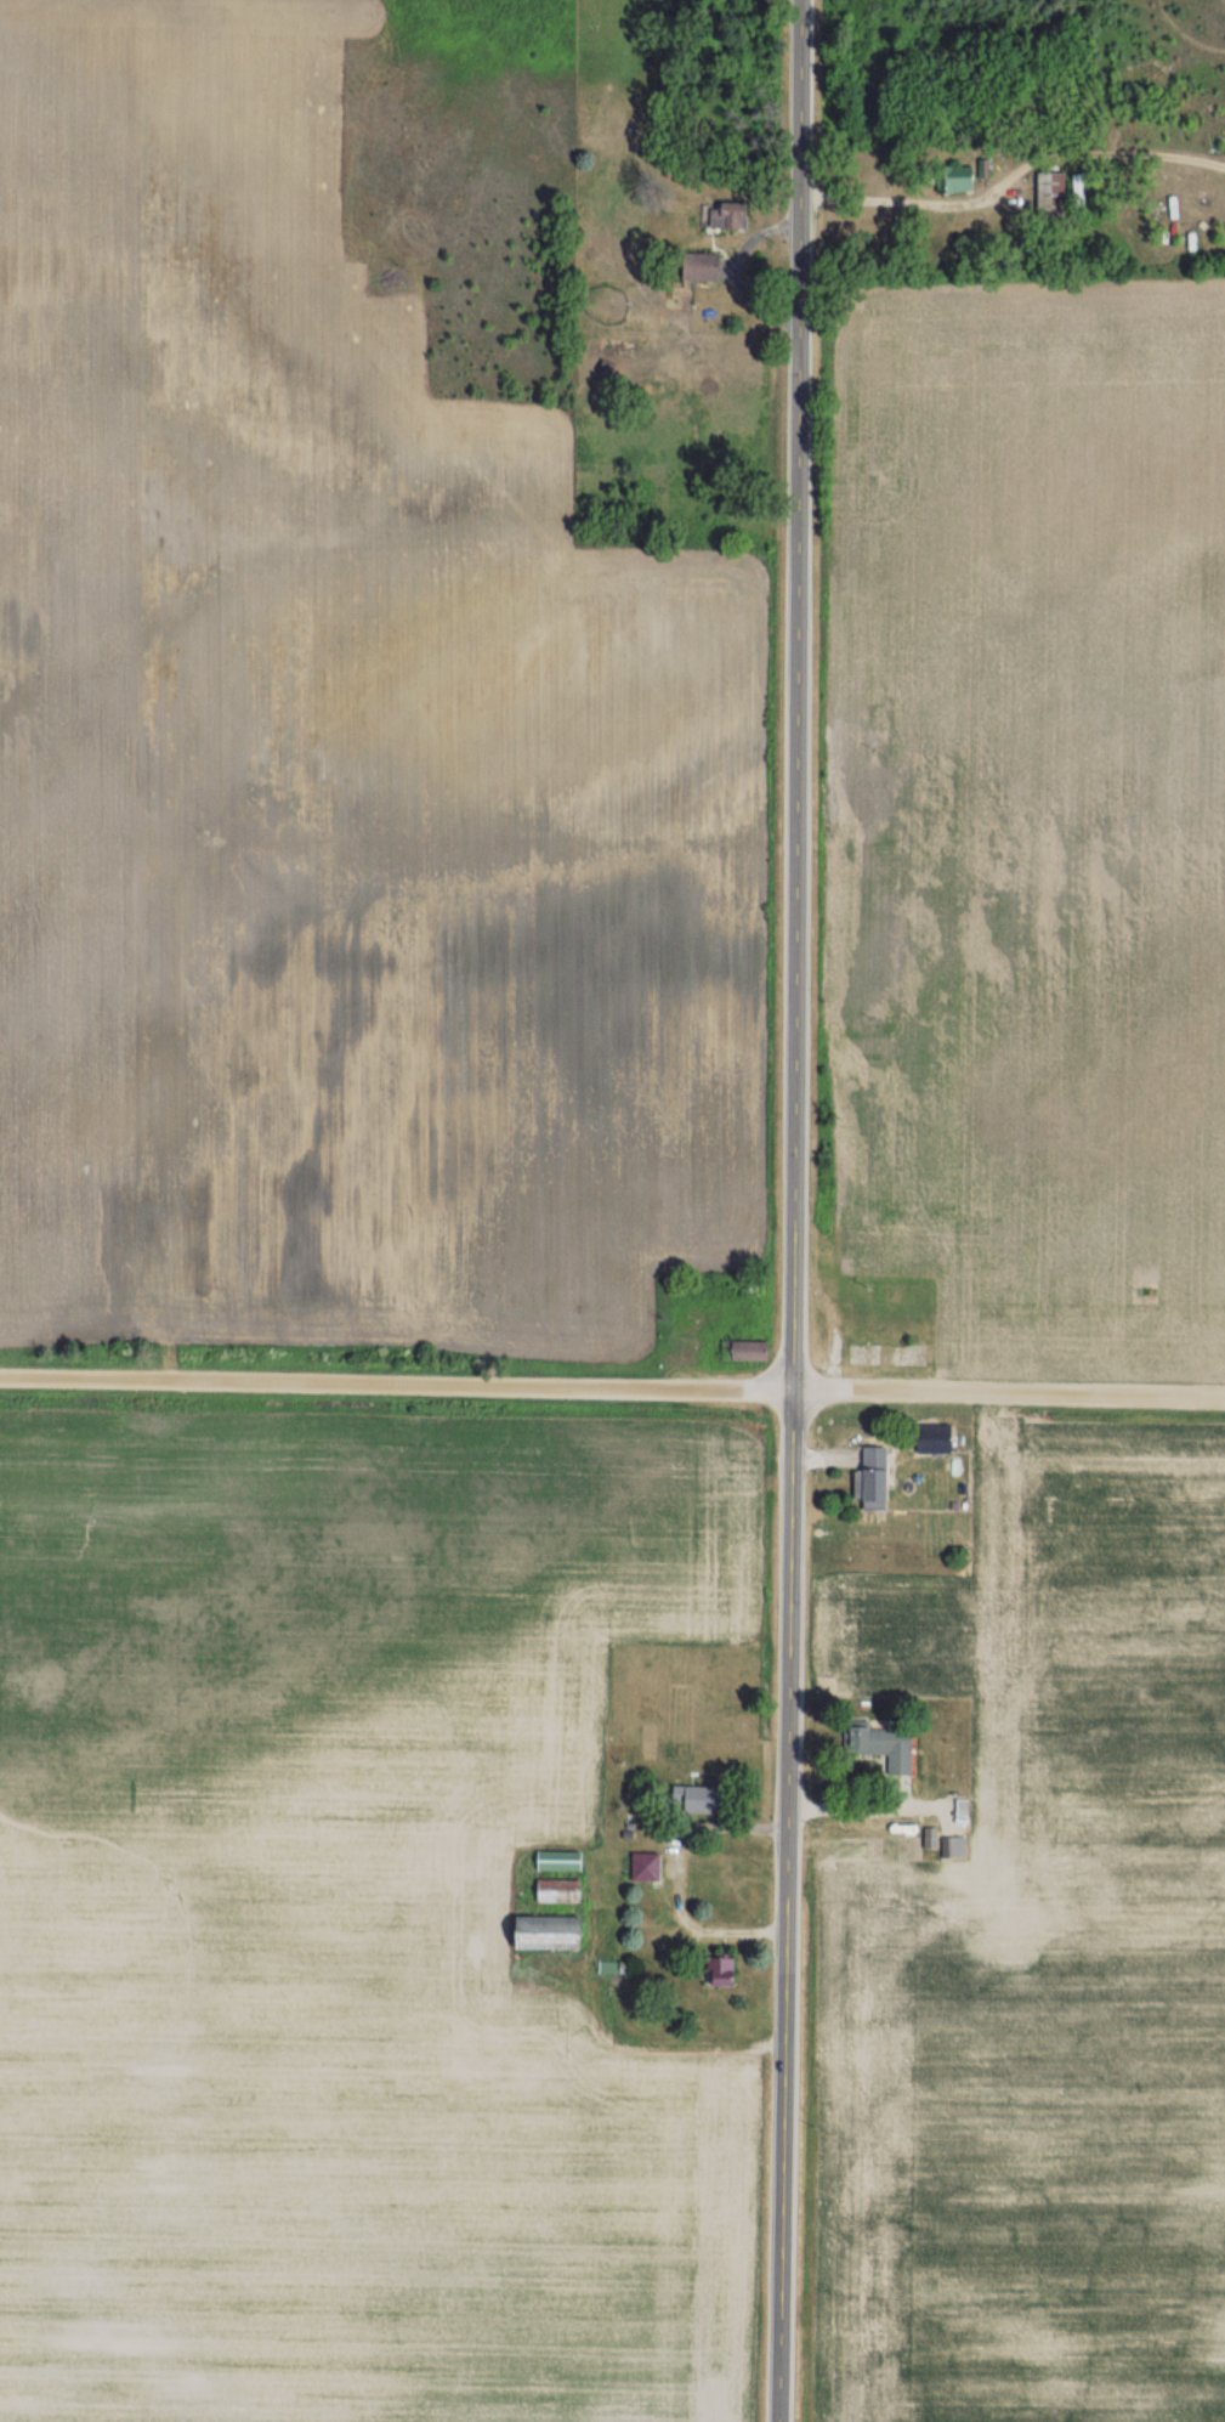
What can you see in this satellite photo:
building: (952, 180)
building: (1047, 193)
building: (1077, 193)
road: (958, 194)
building: (725, 217)
building: (1189, 243)
building: (696, 267)
road: (794, 1211)
building: (743, 1351)
road: (612, 1387)
building: (930, 1438)
building: (866, 1479)
building: (874, 1744)
building: (687, 1799)
building: (945, 1847)
building: (551, 1861)
building: (641, 1867)
building: (552, 1891)
building: (540, 1932)
building: (715, 1971)

